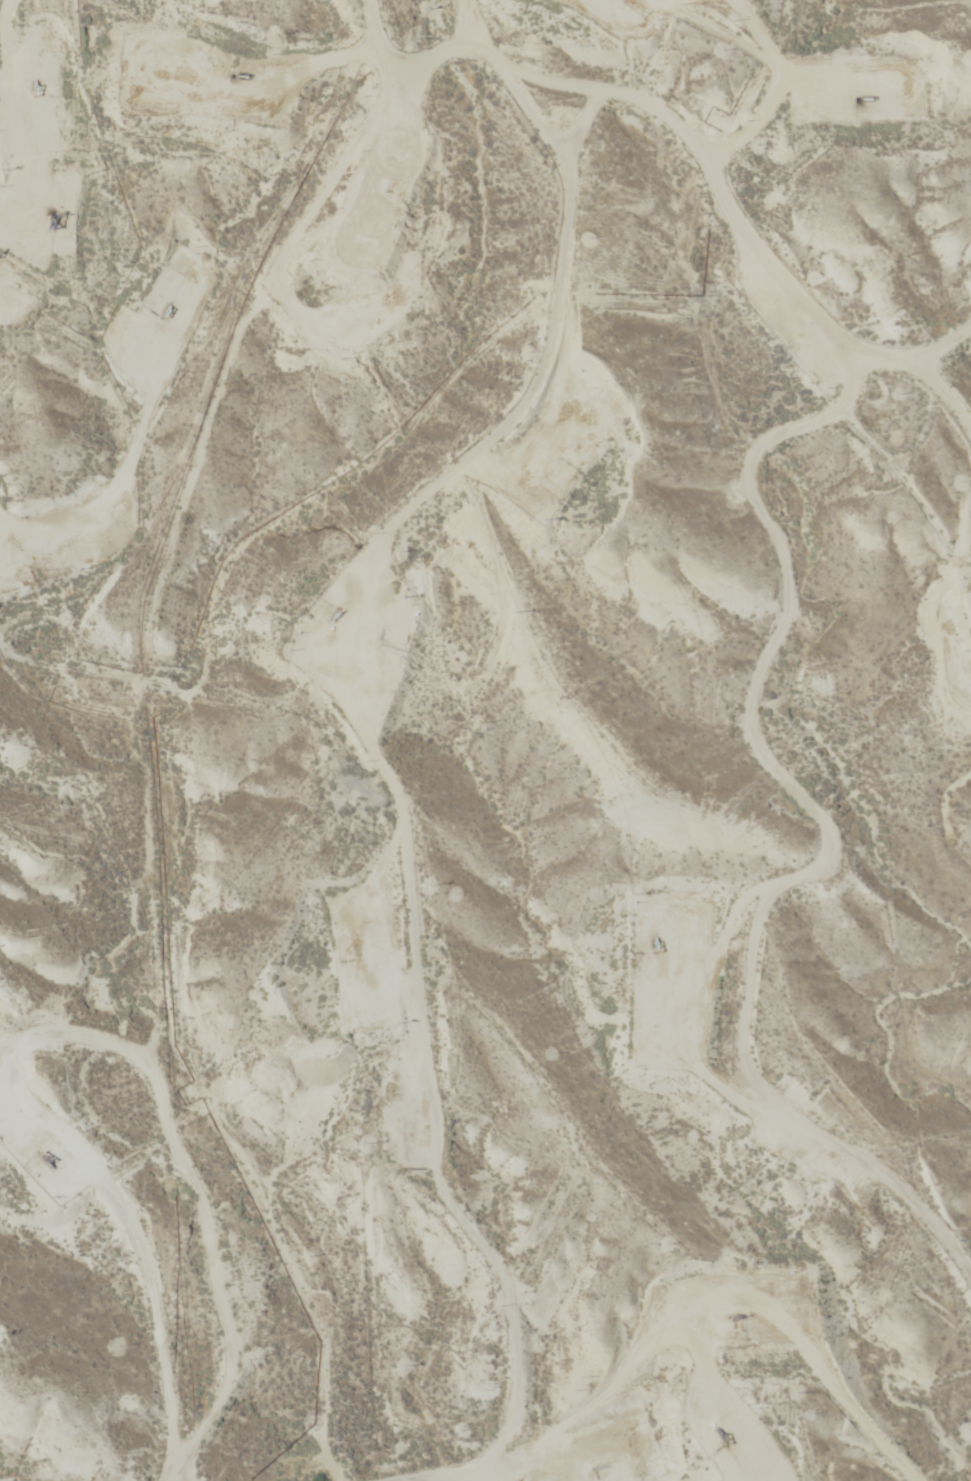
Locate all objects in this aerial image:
road: (37, 57)
road: (245, 117)
road: (623, 121)
road: (13, 164)
road: (783, 207)
road: (402, 822)
road: (671, 825)
road: (467, 1262)

